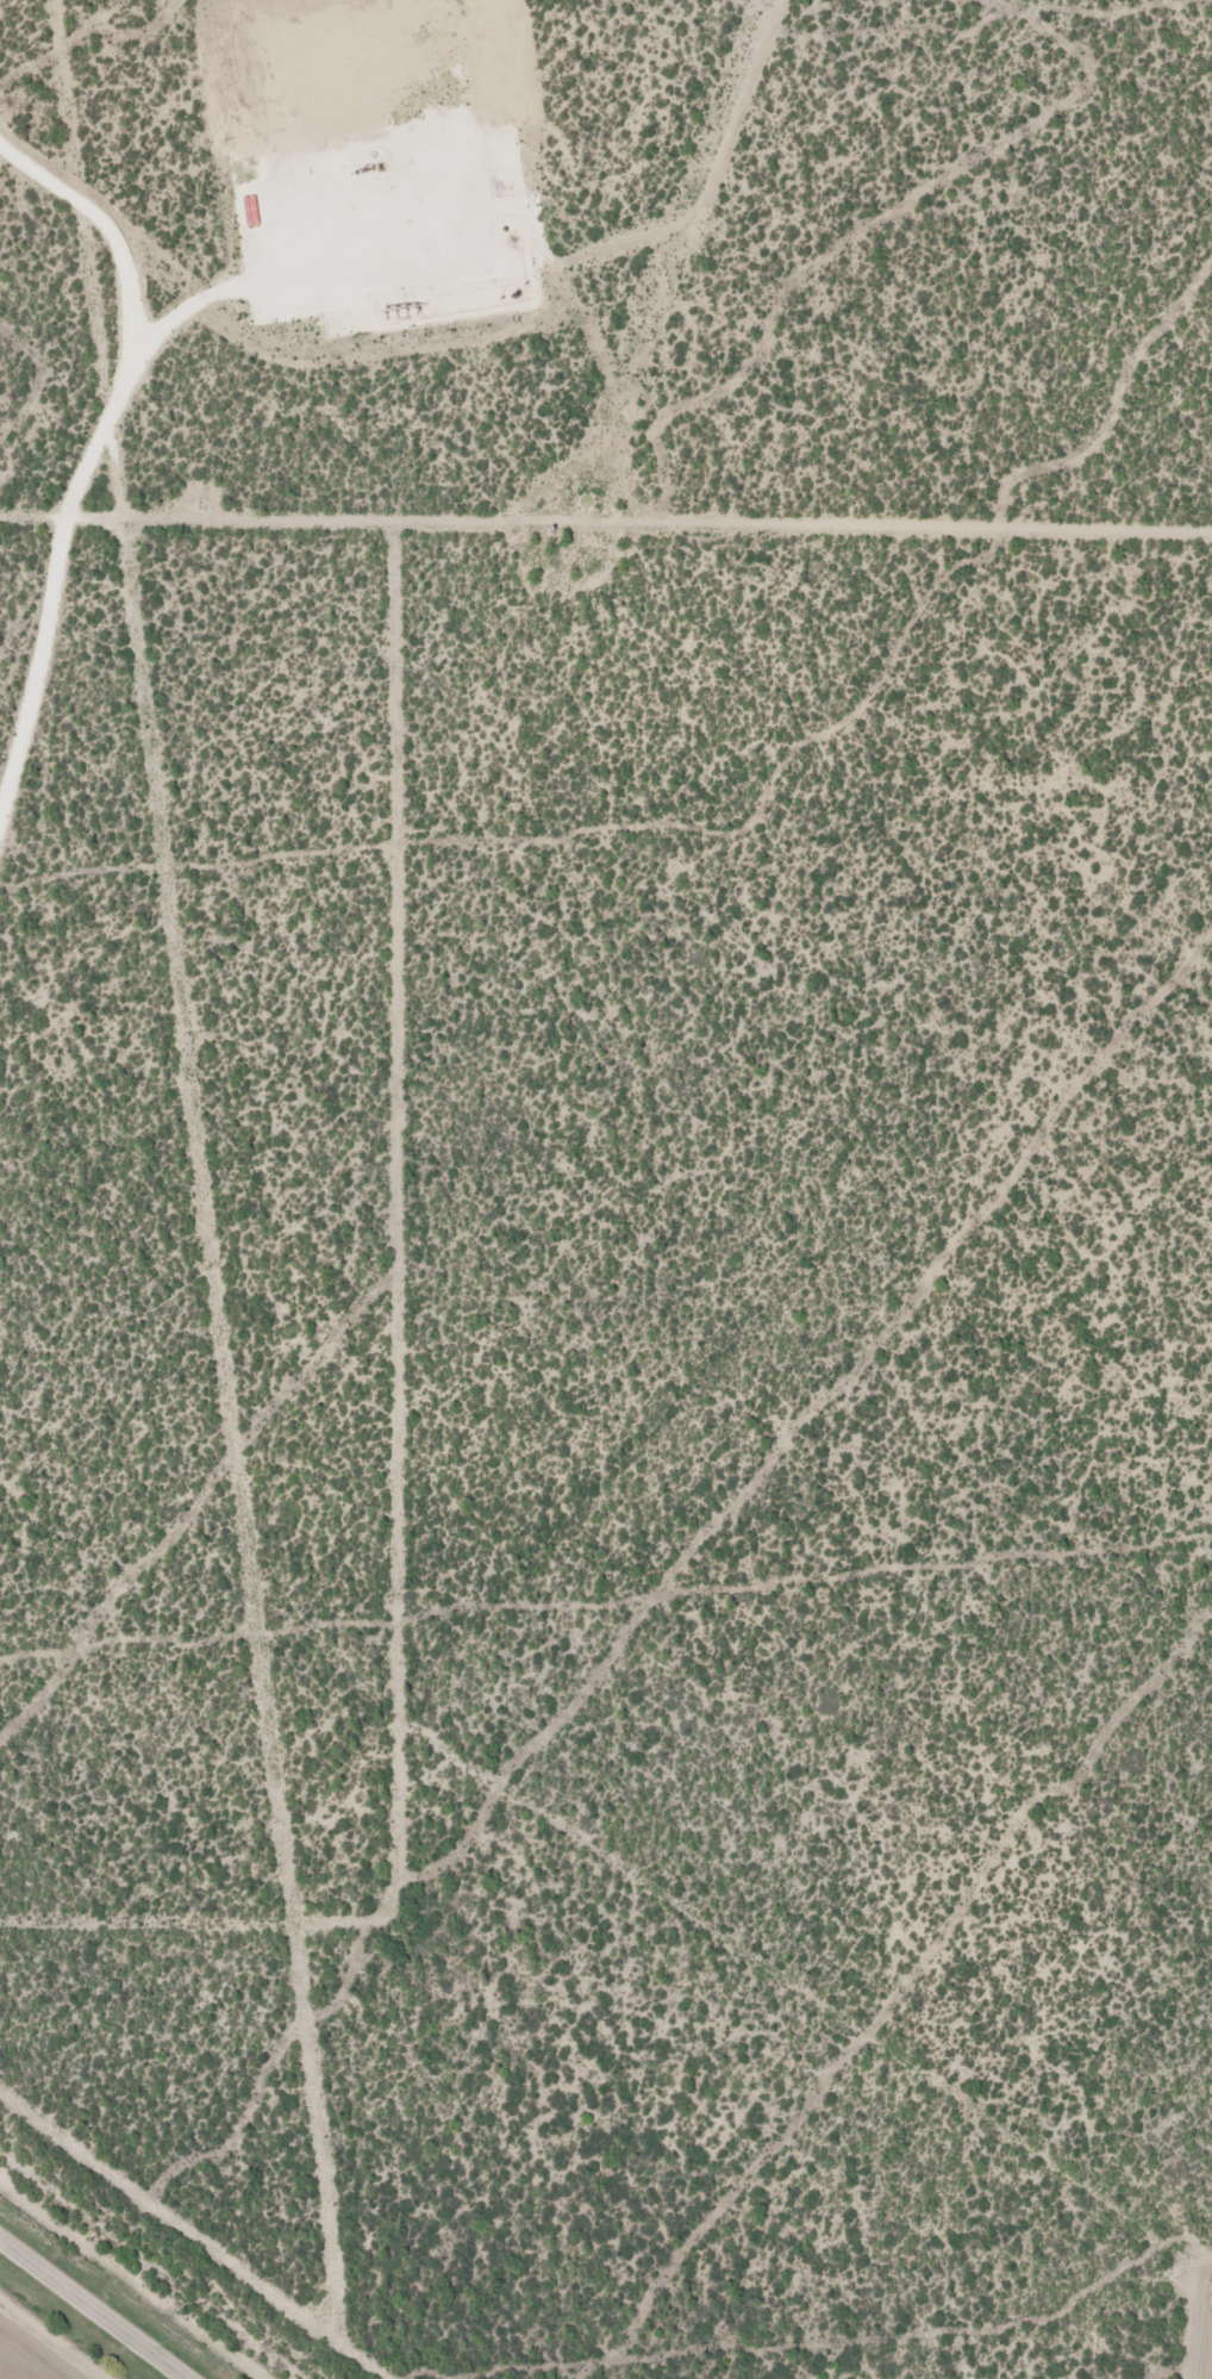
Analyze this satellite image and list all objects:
road: (99, 2304)

